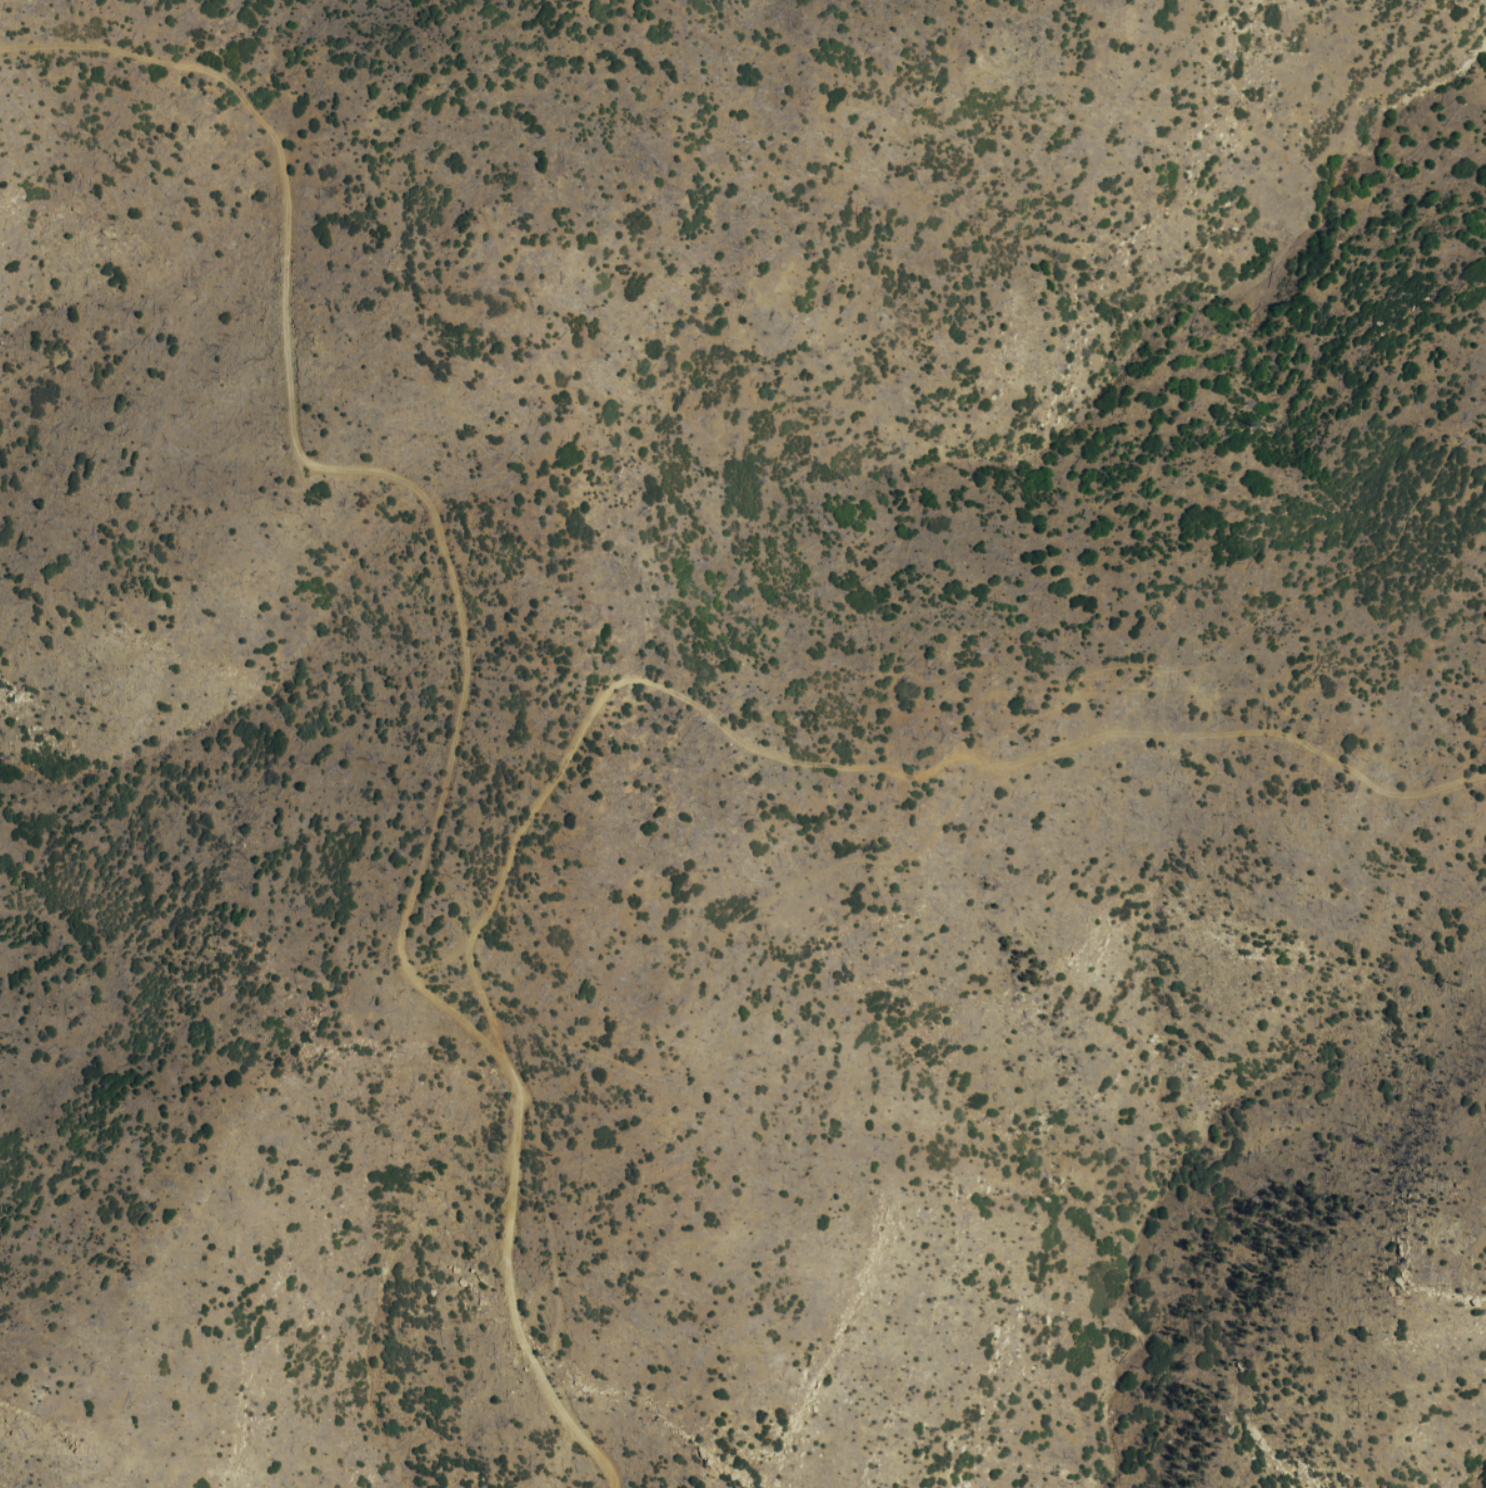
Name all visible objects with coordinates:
road: (359, 469)
road: (844, 766)
road: (957, 807)
road: (511, 1287)

